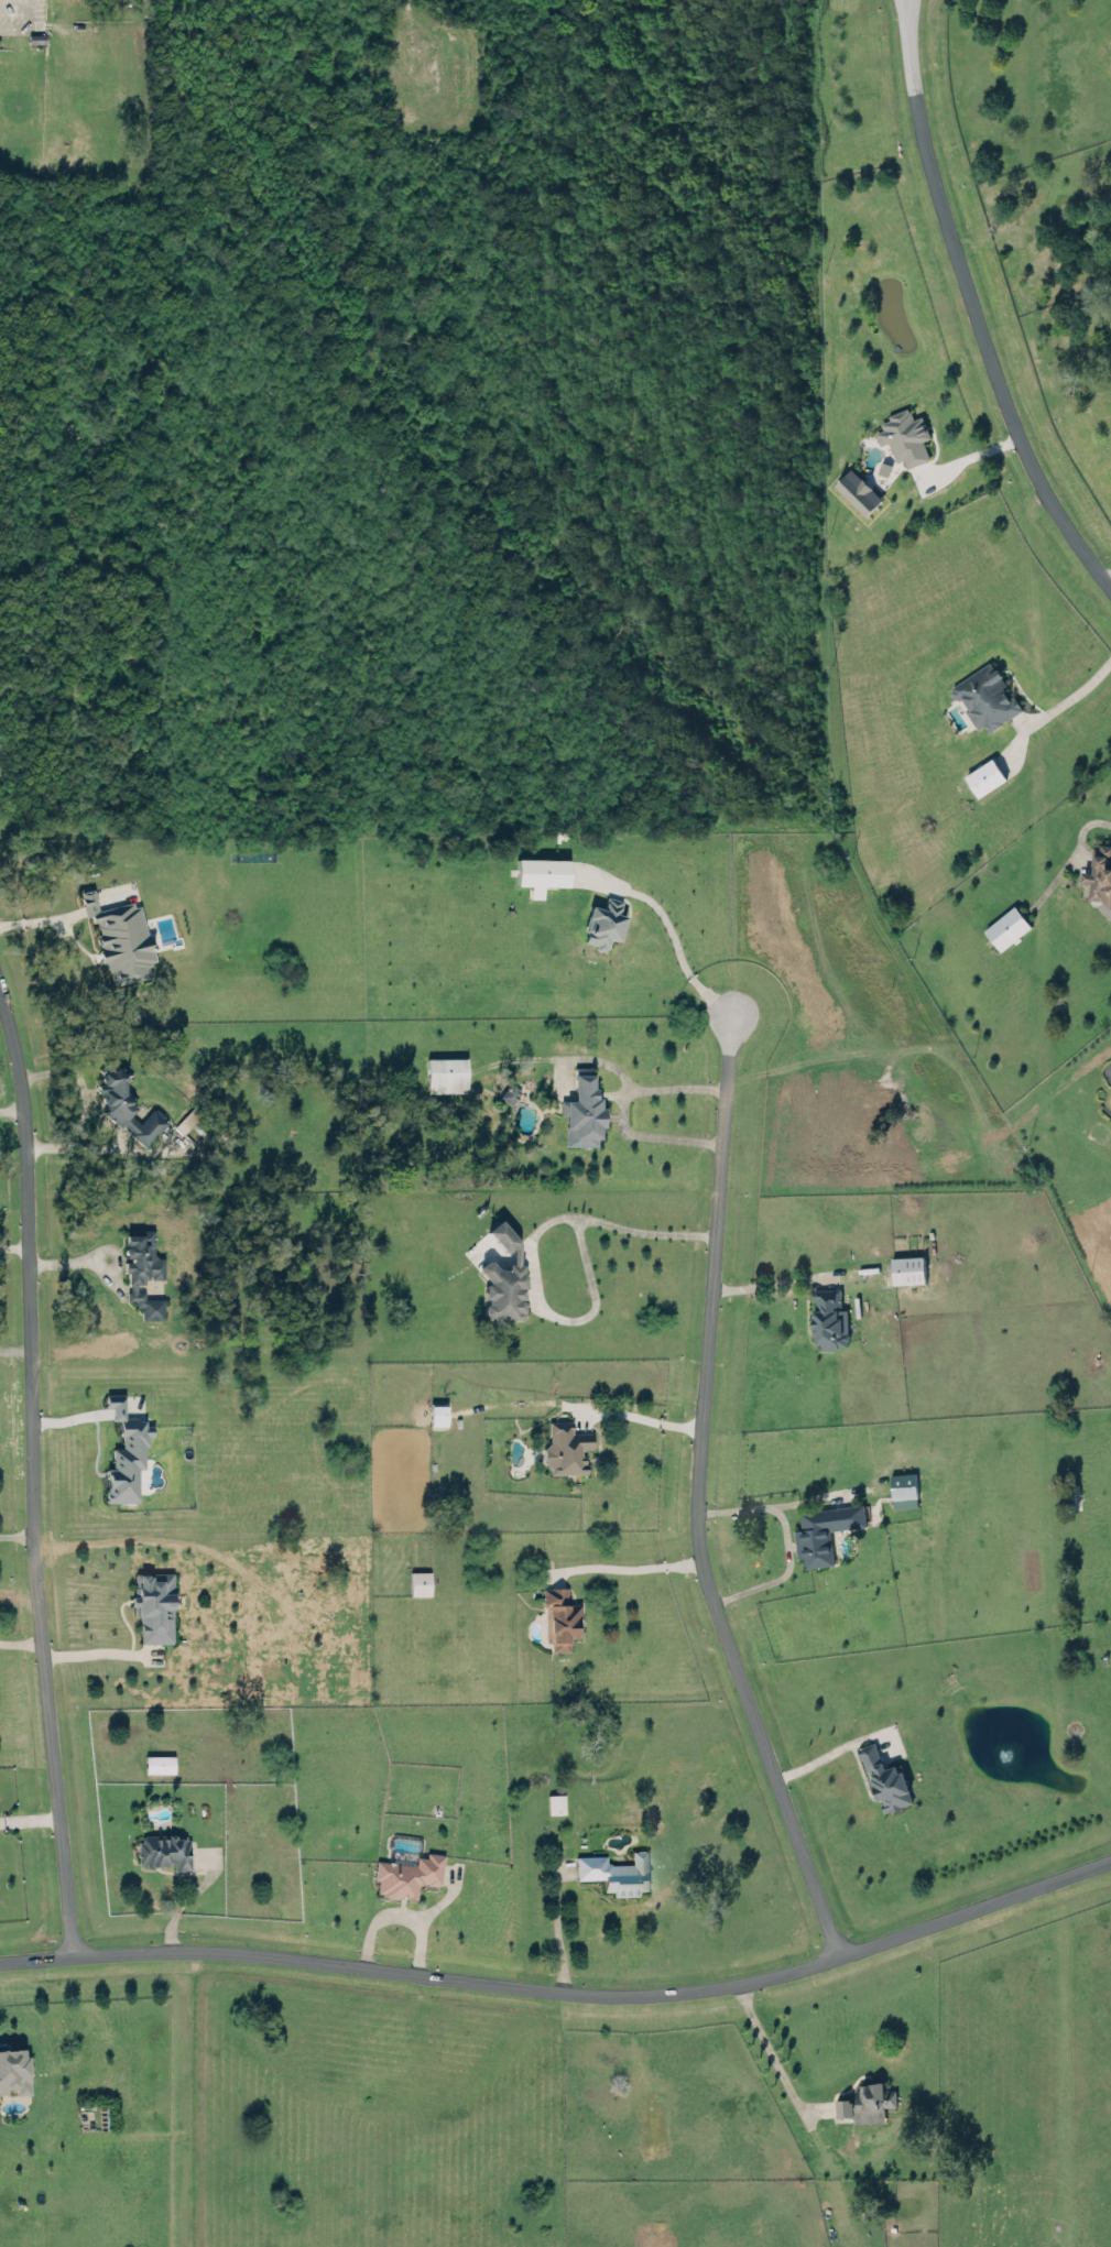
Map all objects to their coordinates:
road: (21, 23)
road: (412, 25)
road: (970, 309)
building: (904, 434)
building: (858, 491)
road: (1108, 582)
road: (1074, 692)
building: (985, 694)
building: (984, 776)
road: (1070, 853)
building: (541, 872)
building: (1100, 877)
road: (40, 918)
building: (602, 923)
building: (1006, 927)
building: (119, 938)
road: (683, 959)
building: (445, 1073)
building: (509, 1092)
road: (83, 1099)
building: (126, 1104)
road: (622, 1106)
building: (581, 1110)
road: (643, 1229)
road: (95, 1254)
building: (907, 1268)
building: (142, 1272)
building: (502, 1277)
road: (766, 1284)
road: (566, 1317)
building: (828, 1318)
road: (13, 1349)
building: (110, 1401)
road: (639, 1414)
building: (565, 1446)
building: (126, 1457)
road: (30, 1479)
building: (903, 1490)
road: (693, 1493)
road: (800, 1498)
building: (825, 1529)
road: (15, 1535)
road: (780, 1538)
road: (625, 1564)
building: (418, 1581)
building: (153, 1605)
building: (558, 1615)
road: (20, 1641)
road: (91, 1651)
building: (159, 1763)
building: (886, 1777)
building: (555, 1802)
road: (29, 1819)
building: (613, 1869)
building: (407, 1874)
road: (183, 1899)
road: (396, 1916)
road: (554, 1922)
road: (564, 1990)
road: (769, 2054)
building: (11, 2068)
building: (872, 2101)
building: (843, 2106)

